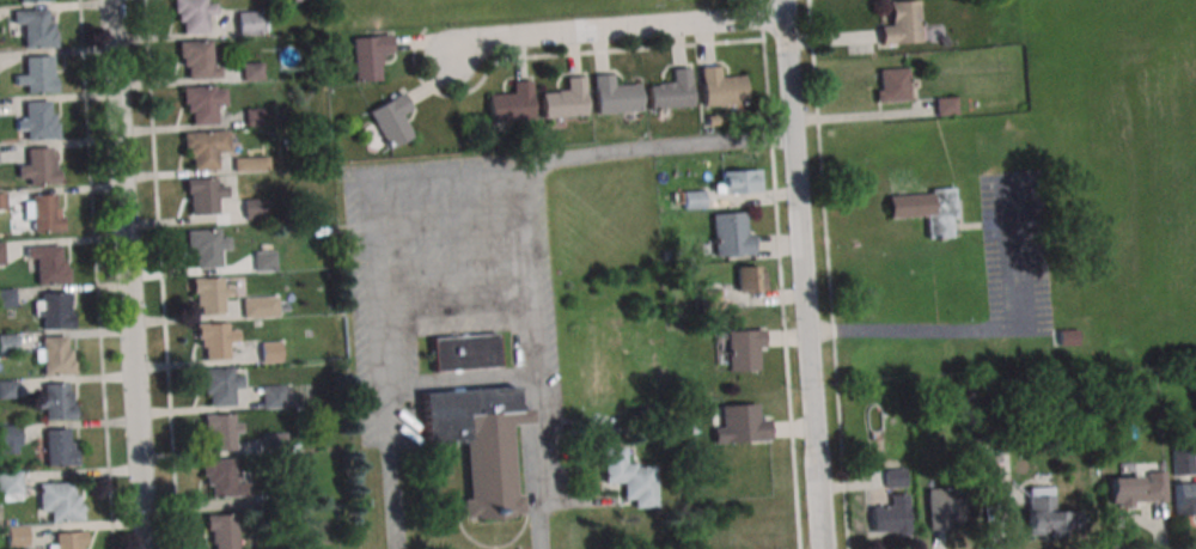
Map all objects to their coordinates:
building: (33, 0)
road: (783, 11)
building: (194, 14)
building: (251, 22)
building: (902, 23)
building: (35, 25)
road: (615, 30)
road: (553, 54)
building: (368, 55)
building: (199, 56)
building: (251, 71)
building: (38, 74)
road: (788, 78)
building: (892, 86)
building: (721, 87)
building: (671, 90)
building: (615, 94)
building: (566, 98)
building: (202, 102)
building: (511, 103)
building: (946, 105)
building: (254, 116)
building: (390, 120)
building: (713, 120)
building: (37, 121)
building: (203, 146)
road: (654, 148)
building: (251, 163)
building: (38, 165)
building: (737, 181)
building: (203, 194)
building: (692, 199)
building: (2, 200)
building: (254, 208)
building: (928, 209)
building: (43, 212)
road: (798, 232)
building: (731, 233)
building: (207, 246)
building: (1, 252)
parking lot: (1015, 252)
building: (263, 261)
building: (48, 262)
road: (97, 274)
road: (127, 274)
road: (161, 274)
road: (781, 274)
road: (829, 274)
building: (750, 277)
road: (377, 291)
building: (210, 293)
building: (7, 297)
building: (710, 298)
building: (258, 306)
building: (54, 309)
road: (989, 327)
building: (1068, 336)
building: (216, 337)
building: (7, 343)
building: (745, 347)
building: (270, 350)
building: (464, 352)
building: (53, 354)
road: (537, 362)
building: (219, 384)
building: (7, 388)
building: (271, 396)
building: (56, 401)
building: (740, 423)
building: (220, 431)
building: (10, 438)
road: (812, 439)
building: (275, 441)
building: (480, 443)
building: (59, 447)
building: (1182, 460)
building: (990, 468)
building: (222, 477)
building: (630, 477)
building: (895, 477)
building: (8, 484)
building: (1135, 488)
building: (1184, 499)
building: (60, 500)
road: (581, 501)
building: (944, 506)
building: (889, 514)
building: (1045, 514)
building: (222, 531)
building: (17, 535)
building: (67, 539)

